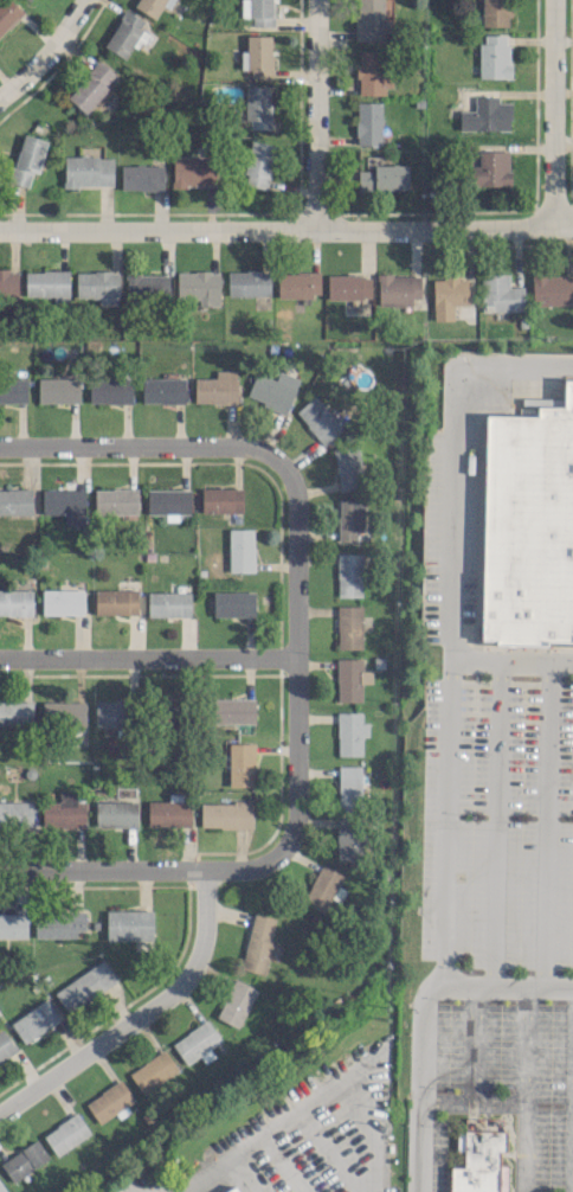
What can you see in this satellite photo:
building: (28, 0)
building: (148, 6)
building: (257, 11)
building: (495, 12)
building: (7, 13)
building: (371, 20)
building: (124, 33)
road: (46, 52)
building: (494, 55)
building: (257, 56)
building: (371, 72)
building: (92, 86)
building: (257, 107)
road: (551, 111)
building: (485, 114)
road: (313, 115)
building: (368, 122)
building: (27, 158)
building: (257, 164)
building: (490, 168)
building: (88, 171)
building: (193, 171)
building: (141, 177)
building: (384, 177)
road: (286, 230)
building: (8, 283)
building: (47, 284)
building: (298, 284)
building: (98, 286)
building: (199, 286)
building: (250, 286)
building: (147, 287)
building: (348, 287)
building: (398, 289)
building: (552, 289)
building: (500, 293)
building: (449, 295)
building: (217, 387)
building: (109, 389)
building: (13, 390)
building: (58, 390)
building: (162, 390)
building: (272, 390)
building: (317, 418)
road: (142, 443)
road: (455, 455)
building: (347, 466)
building: (15, 500)
building: (115, 500)
building: (221, 500)
building: (168, 502)
building: (65, 505)
building: (349, 518)
building: (527, 525)
building: (240, 550)
building: (349, 573)
building: (62, 601)
building: (115, 601)
building: (15, 602)
building: (168, 603)
building: (233, 603)
building: (349, 626)
road: (294, 651)
road: (147, 656)
building: (350, 678)
building: (231, 710)
building: (15, 712)
building: (110, 712)
building: (350, 732)
road: (446, 760)
building: (240, 763)
building: (349, 787)
building: (64, 810)
building: (115, 813)
building: (168, 813)
building: (15, 814)
building: (225, 814)
road: (496, 822)
road: (545, 822)
building: (346, 837)
road: (148, 870)
building: (321, 887)
building: (58, 923)
building: (128, 924)
building: (13, 925)
building: (258, 943)
building: (85, 985)
building: (236, 1002)
road: (419, 1013)
road: (140, 1014)
building: (36, 1021)
road: (470, 1042)
road: (523, 1042)
building: (197, 1043)
building: (5, 1045)
building: (152, 1071)
road: (343, 1077)
road: (571, 1085)
building: (108, 1101)
road: (515, 1103)
building: (66, 1133)
road: (329, 1151)
building: (478, 1158)
building: (25, 1160)
road: (284, 1164)
road: (224, 1165)
building: (2, 1187)
building: (232, 1190)

